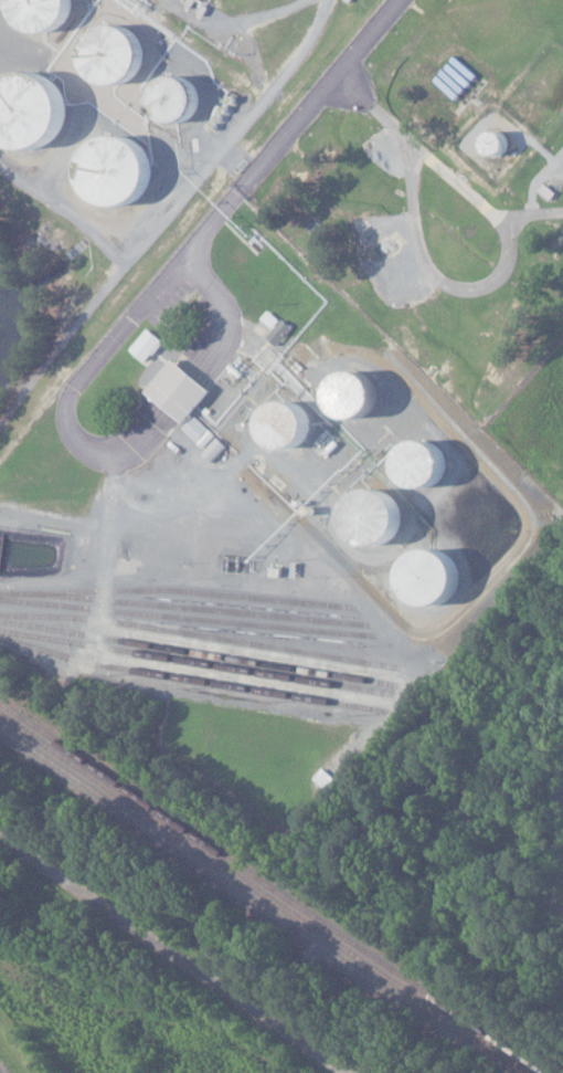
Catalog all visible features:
building: (108, 53)
road: (288, 130)
building: (109, 170)
road: (510, 245)
building: (144, 345)
building: (174, 390)
building: (346, 393)
building: (285, 425)
building: (195, 431)
building: (417, 463)
railway: (178, 591)
railway: (190, 608)
railway: (187, 618)
railway: (200, 635)
railway: (195, 652)
railway: (195, 662)
railway: (189, 678)
park: (119, 701)
railway: (272, 887)
railway: (263, 894)
railway: (254, 901)
road: (164, 962)

